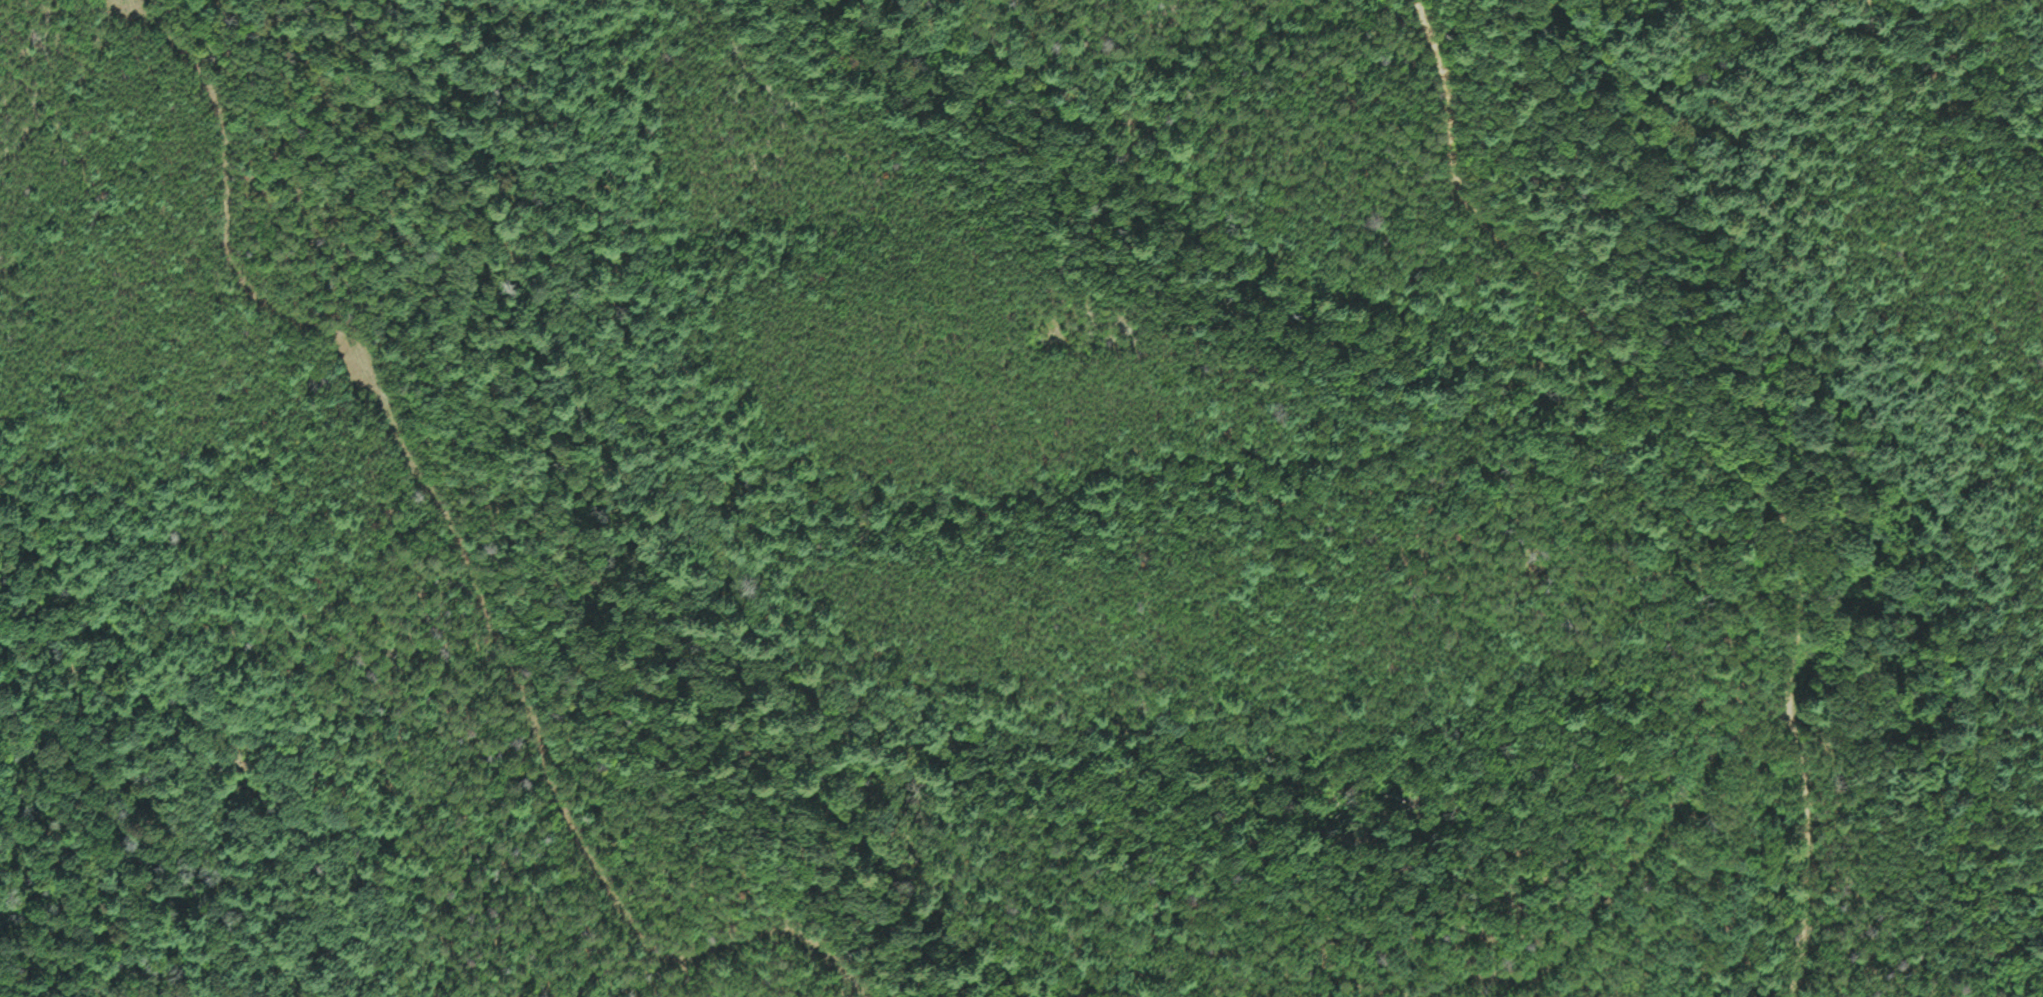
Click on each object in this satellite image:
road: (1697, 459)

